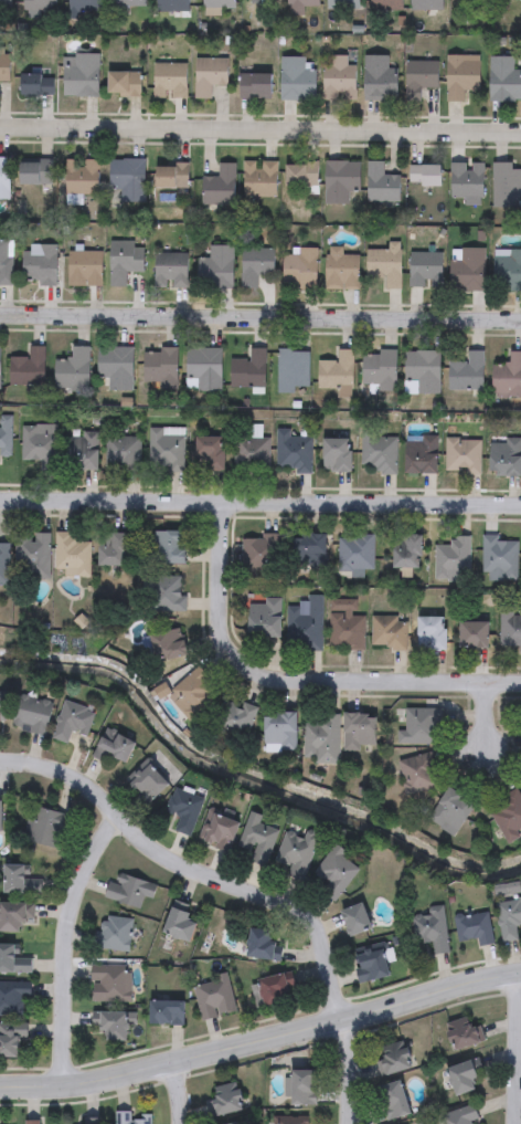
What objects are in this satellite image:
building: (509, 0)
building: (129, 2)
building: (219, 3)
building: (4, 4)
building: (40, 4)
building: (342, 4)
building: (386, 4)
building: (172, 6)
building: (299, 6)
building: (85, 7)
building: (4, 67)
building: (210, 74)
building: (82, 75)
building: (422, 75)
building: (462, 76)
building: (380, 77)
building: (297, 78)
building: (504, 78)
building: (169, 80)
building: (339, 80)
building: (125, 83)
building: (38, 84)
building: (255, 85)
road: (259, 133)
building: (35, 171)
building: (172, 176)
building: (301, 176)
building: (426, 176)
building: (82, 177)
building: (128, 178)
building: (259, 178)
building: (4, 179)
building: (341, 180)
building: (467, 180)
building: (382, 183)
building: (220, 186)
building: (506, 186)
building: (125, 260)
building: (6, 262)
building: (41, 264)
building: (385, 264)
building: (255, 265)
building: (216, 267)
building: (84, 269)
building: (299, 269)
building: (341, 269)
building: (426, 269)
building: (470, 269)
building: (171, 270)
building: (508, 270)
road: (259, 317)
building: (0, 367)
building: (116, 367)
building: (28, 368)
building: (161, 368)
building: (73, 370)
building: (204, 370)
building: (249, 370)
building: (294, 370)
building: (337, 370)
building: (382, 371)
building: (424, 371)
building: (467, 372)
building: (508, 377)
building: (6, 438)
building: (38, 445)
building: (166, 450)
building: (83, 452)
building: (123, 452)
building: (251, 452)
building: (293, 453)
building: (210, 454)
building: (378, 454)
building: (337, 455)
building: (422, 455)
building: (462, 456)
building: (506, 456)
road: (260, 501)
building: (169, 546)
building: (114, 548)
building: (309, 550)
building: (407, 552)
building: (259, 553)
building: (355, 553)
building: (72, 554)
building: (33, 556)
building: (453, 558)
building: (499, 558)
building: (4, 565)
building: (171, 593)
building: (264, 617)
building: (345, 623)
building: (304, 624)
building: (509, 629)
building: (389, 632)
building: (432, 632)
building: (474, 633)
building: (169, 644)
road: (297, 676)
building: (194, 692)
building: (2, 711)
building: (33, 713)
road: (487, 713)
building: (235, 718)
building: (73, 719)
building: (422, 726)
building: (280, 731)
building: (361, 731)
building: (322, 738)
building: (115, 745)
building: (418, 771)
building: (149, 781)
building: (184, 809)
building: (451, 810)
building: (1, 815)
building: (508, 815)
building: (49, 827)
building: (219, 830)
building: (258, 838)
building: (297, 852)
building: (337, 871)
building: (19, 880)
building: (129, 889)
road: (243, 889)
building: (14, 915)
building: (358, 918)
building: (509, 918)
building: (475, 927)
building: (433, 928)
building: (116, 932)
road: (66, 937)
building: (265, 945)
building: (11, 959)
building: (372, 963)
building: (109, 981)
building: (275, 989)
building: (13, 996)
building: (214, 997)
building: (167, 1011)
building: (113, 1025)
road: (262, 1033)
building: (464, 1033)
building: (11, 1038)
road: (518, 1048)
building: (394, 1058)
building: (462, 1079)
building: (301, 1088)
road: (179, 1089)
building: (225, 1099)
building: (393, 1101)
building: (460, 1116)
building: (130, 1117)
building: (288, 1121)
building: (32, 1122)
building: (234, 1123)
building: (237, 1123)

